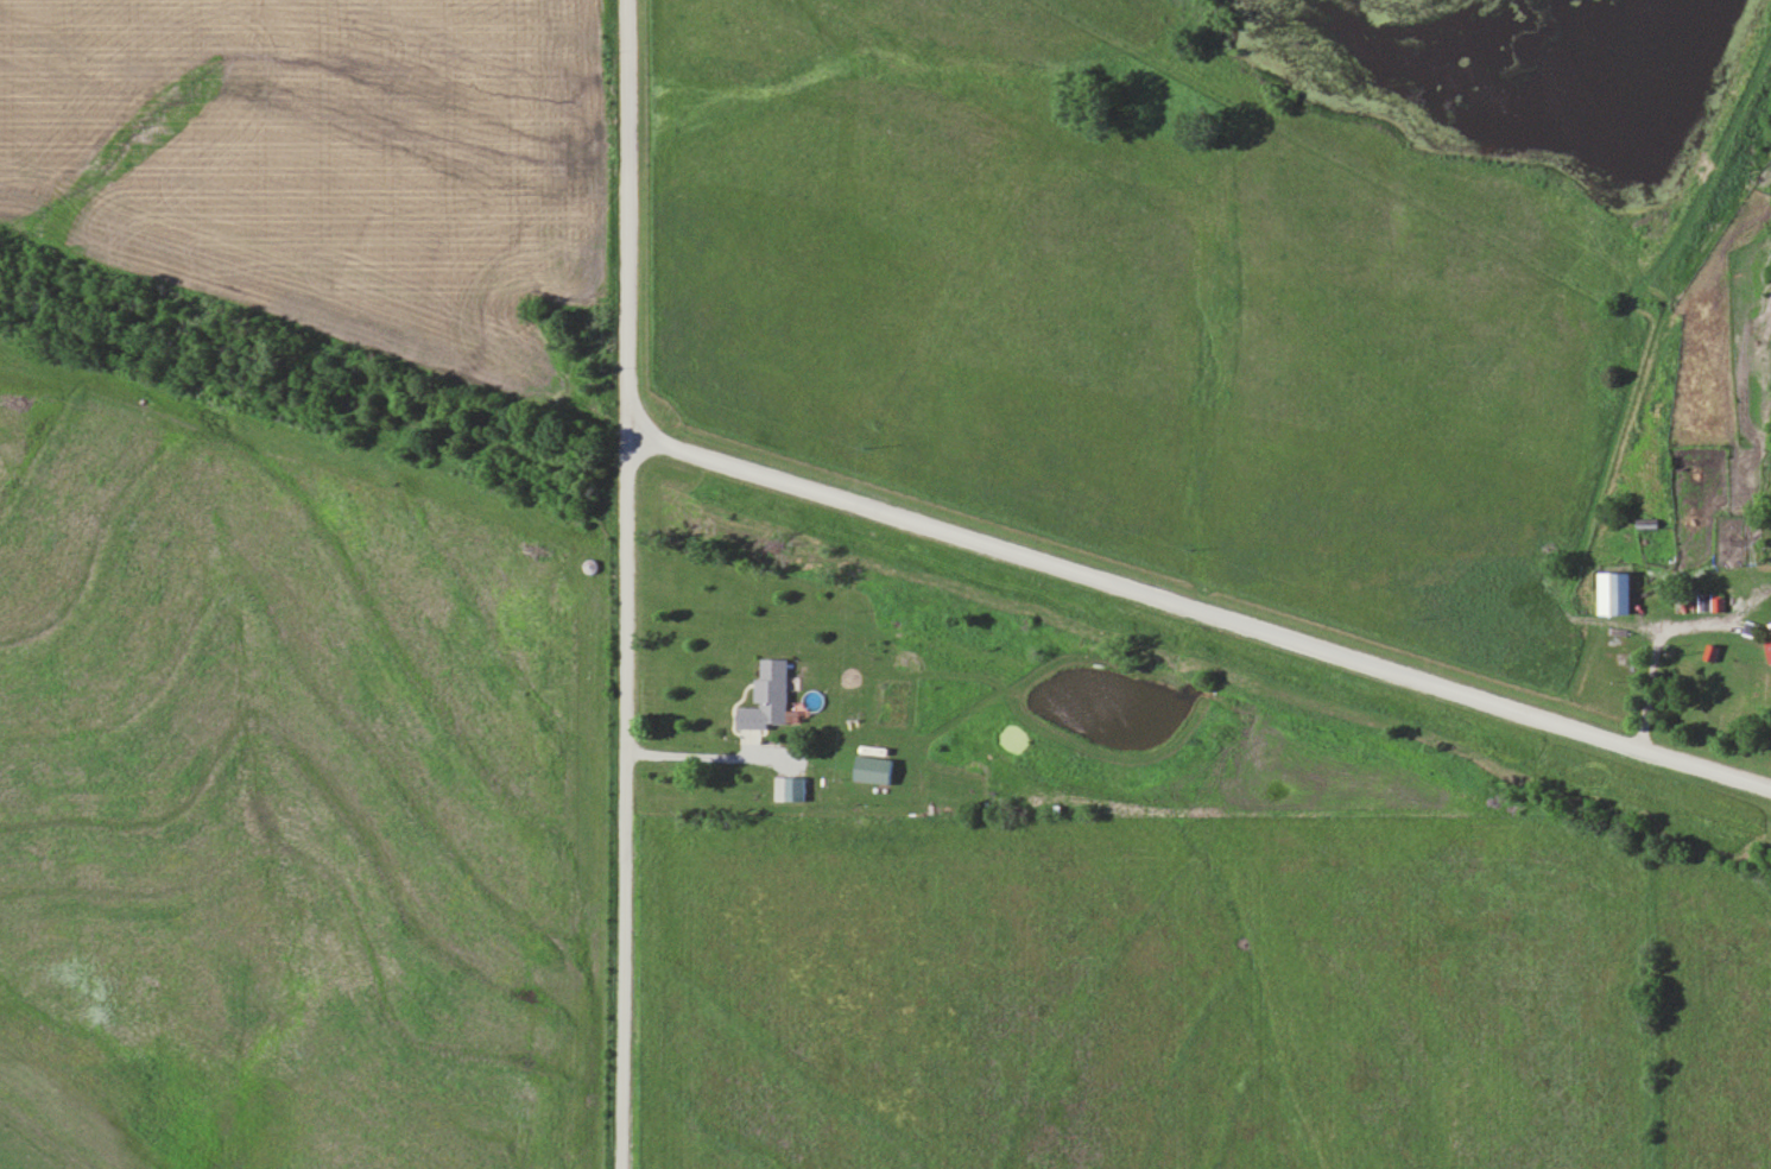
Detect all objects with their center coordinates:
road: (621, 584)
building: (1611, 595)
road: (1195, 614)
road: (1649, 650)
building: (1766, 651)
building: (1707, 678)
building: (771, 696)
road: (698, 756)

